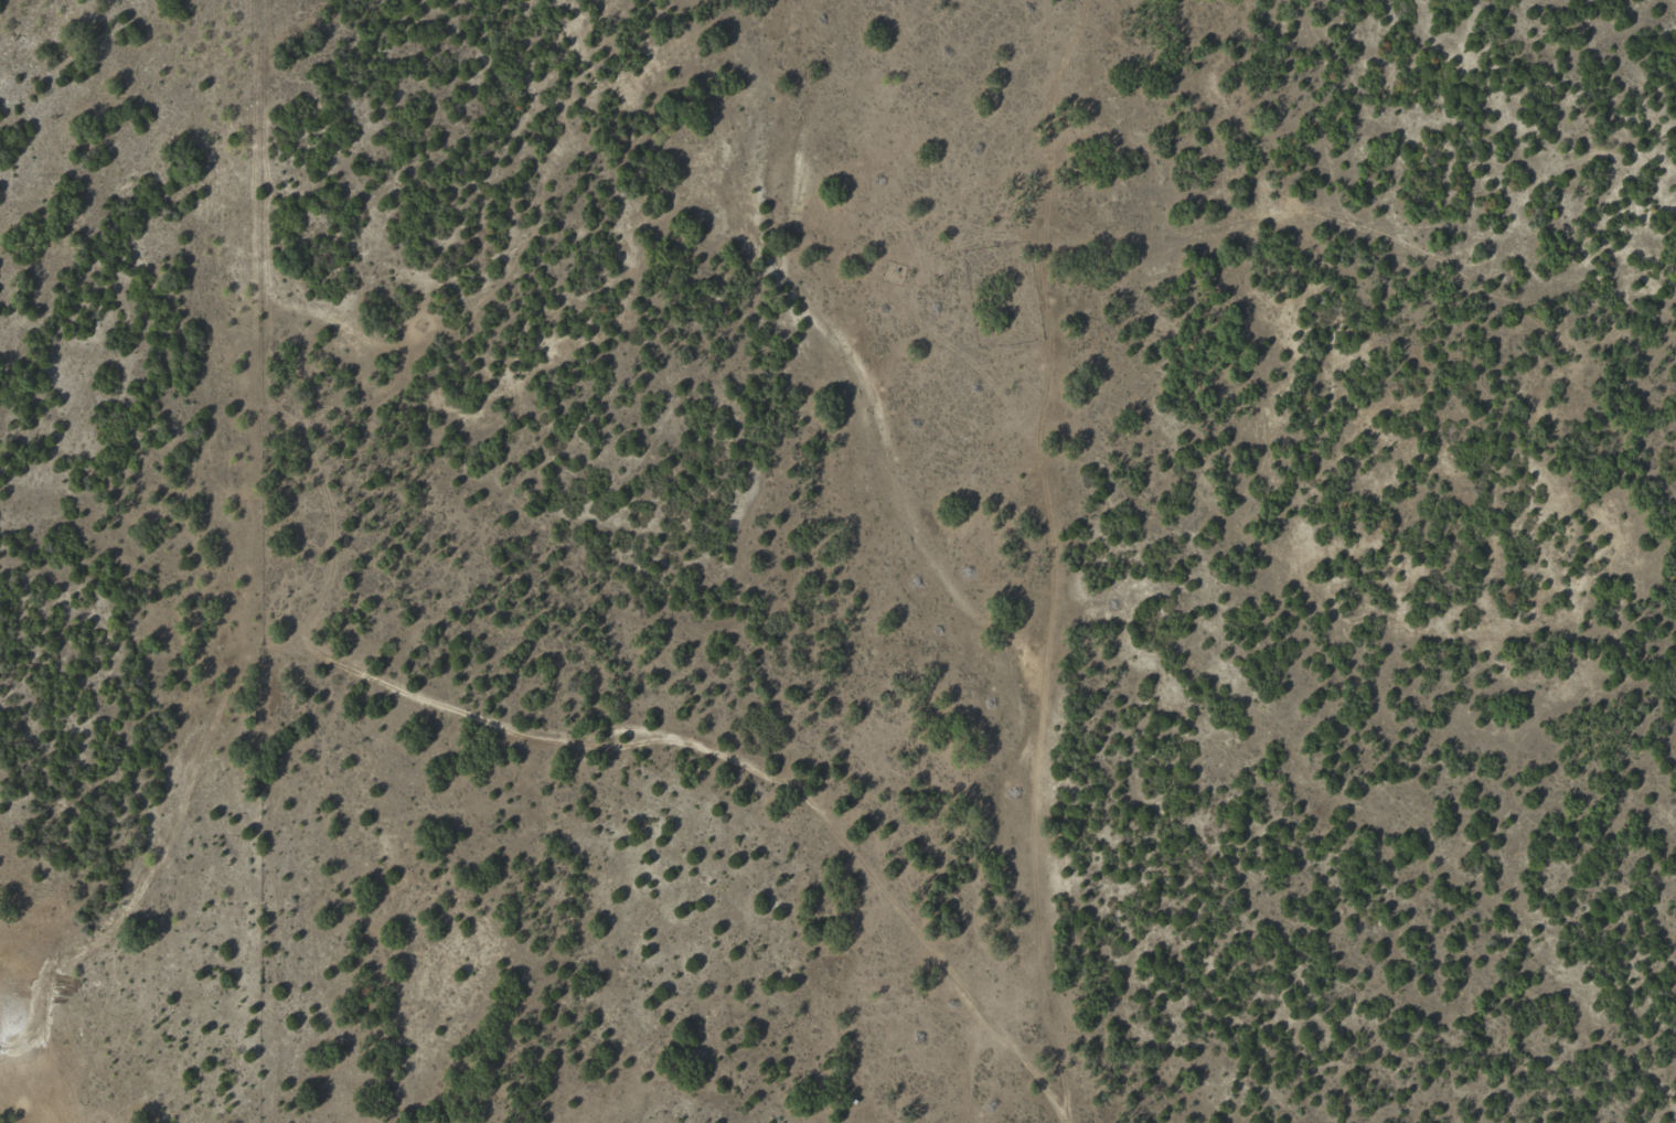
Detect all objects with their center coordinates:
road: (531, 730)

